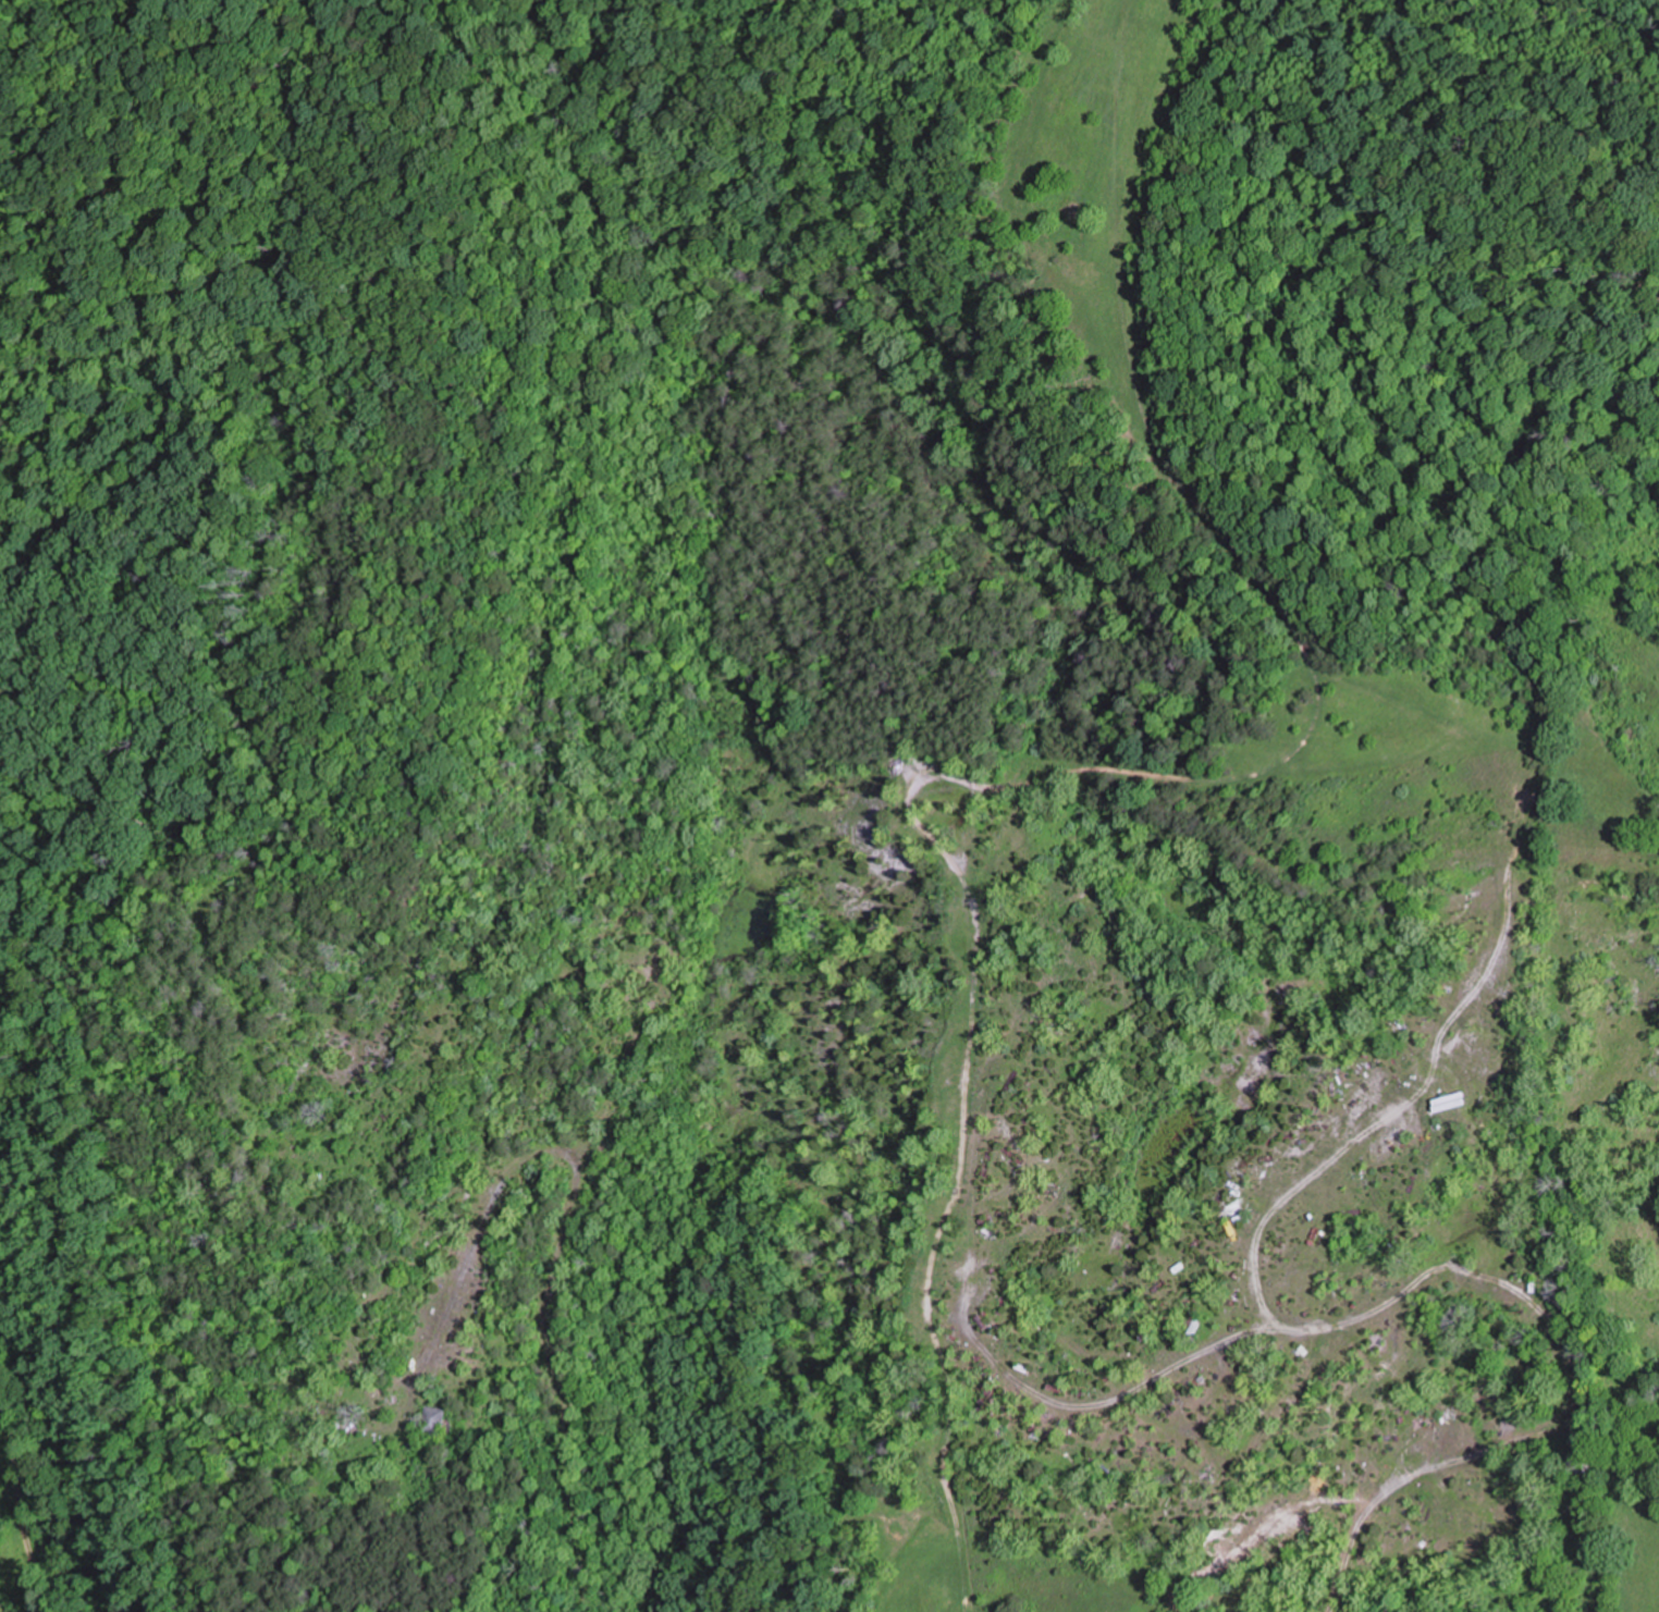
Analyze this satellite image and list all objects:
building: (1447, 1102)
road: (567, 1233)
building: (433, 1420)
road: (1459, 1432)
building: (1578, 1466)
park: (1208, 1609)

